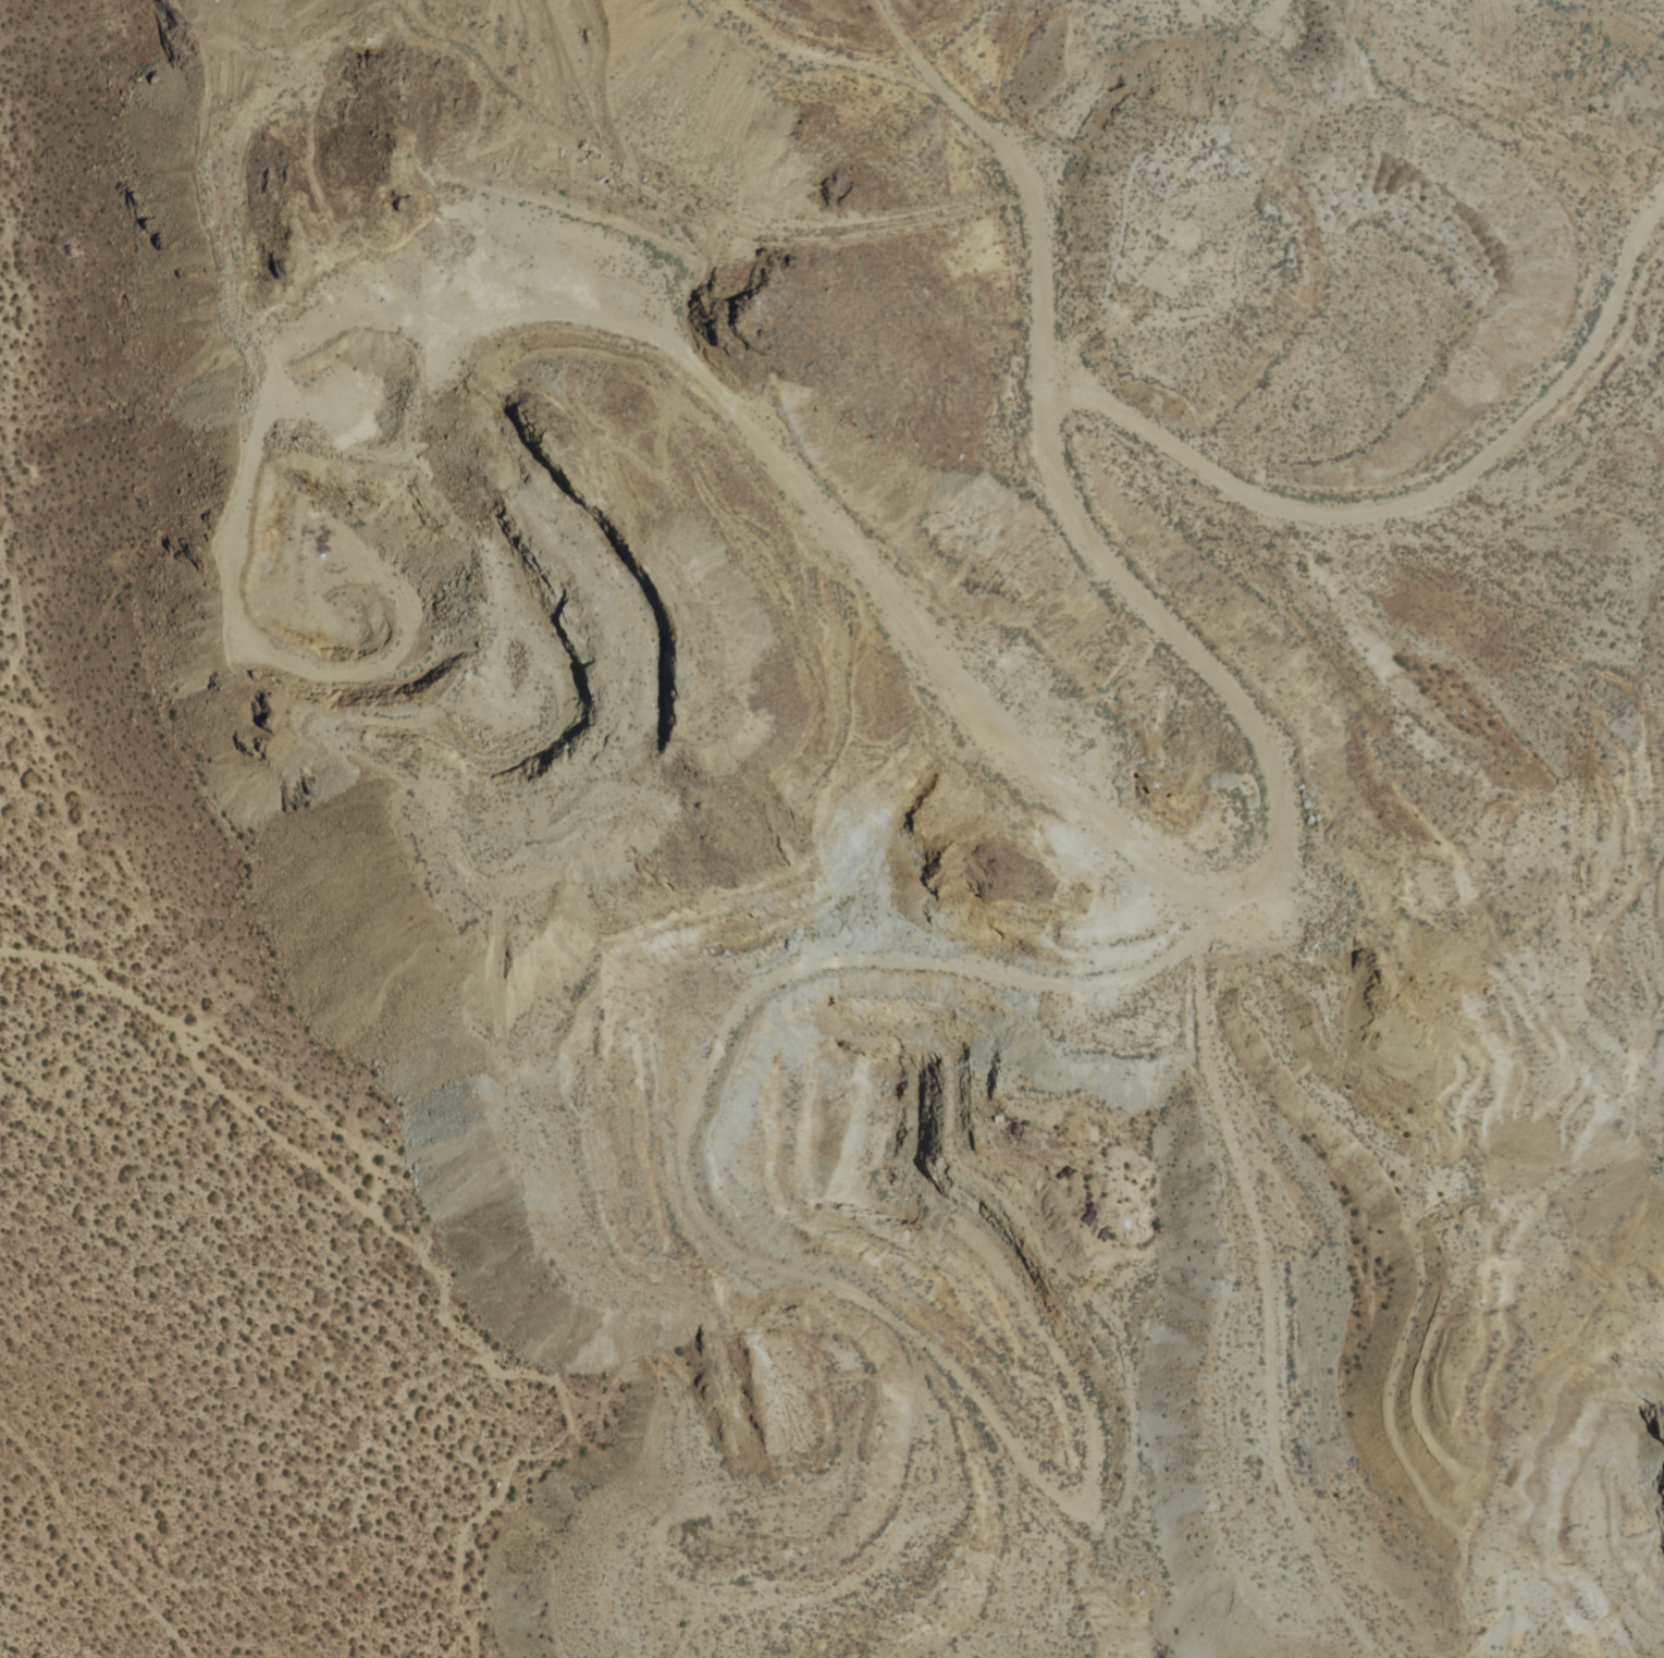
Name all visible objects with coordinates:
road: (1415, 504)
road: (947, 664)

